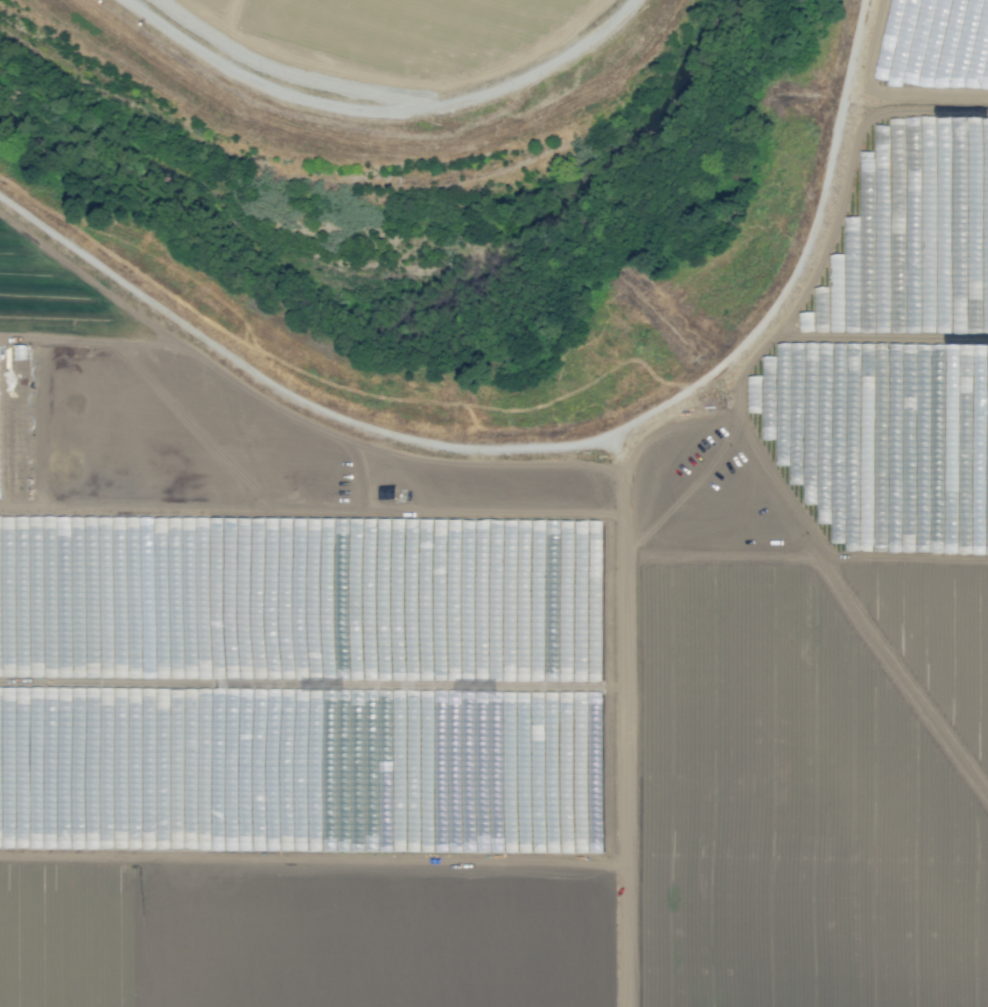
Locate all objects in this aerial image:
crop: (301, 1)
building: (19, 351)
river: (455, 367)
crop: (519, 649)

